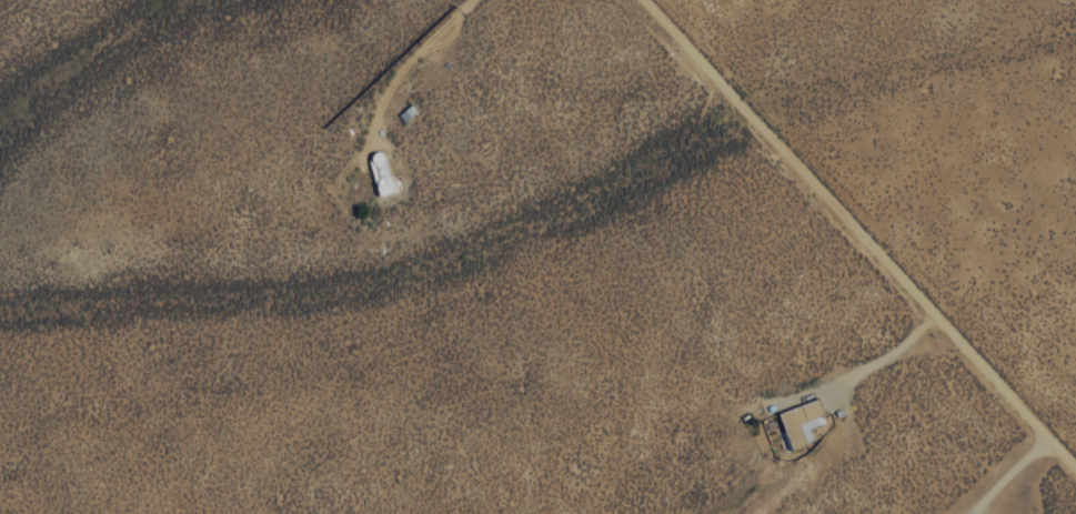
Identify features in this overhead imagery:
road: (857, 235)

